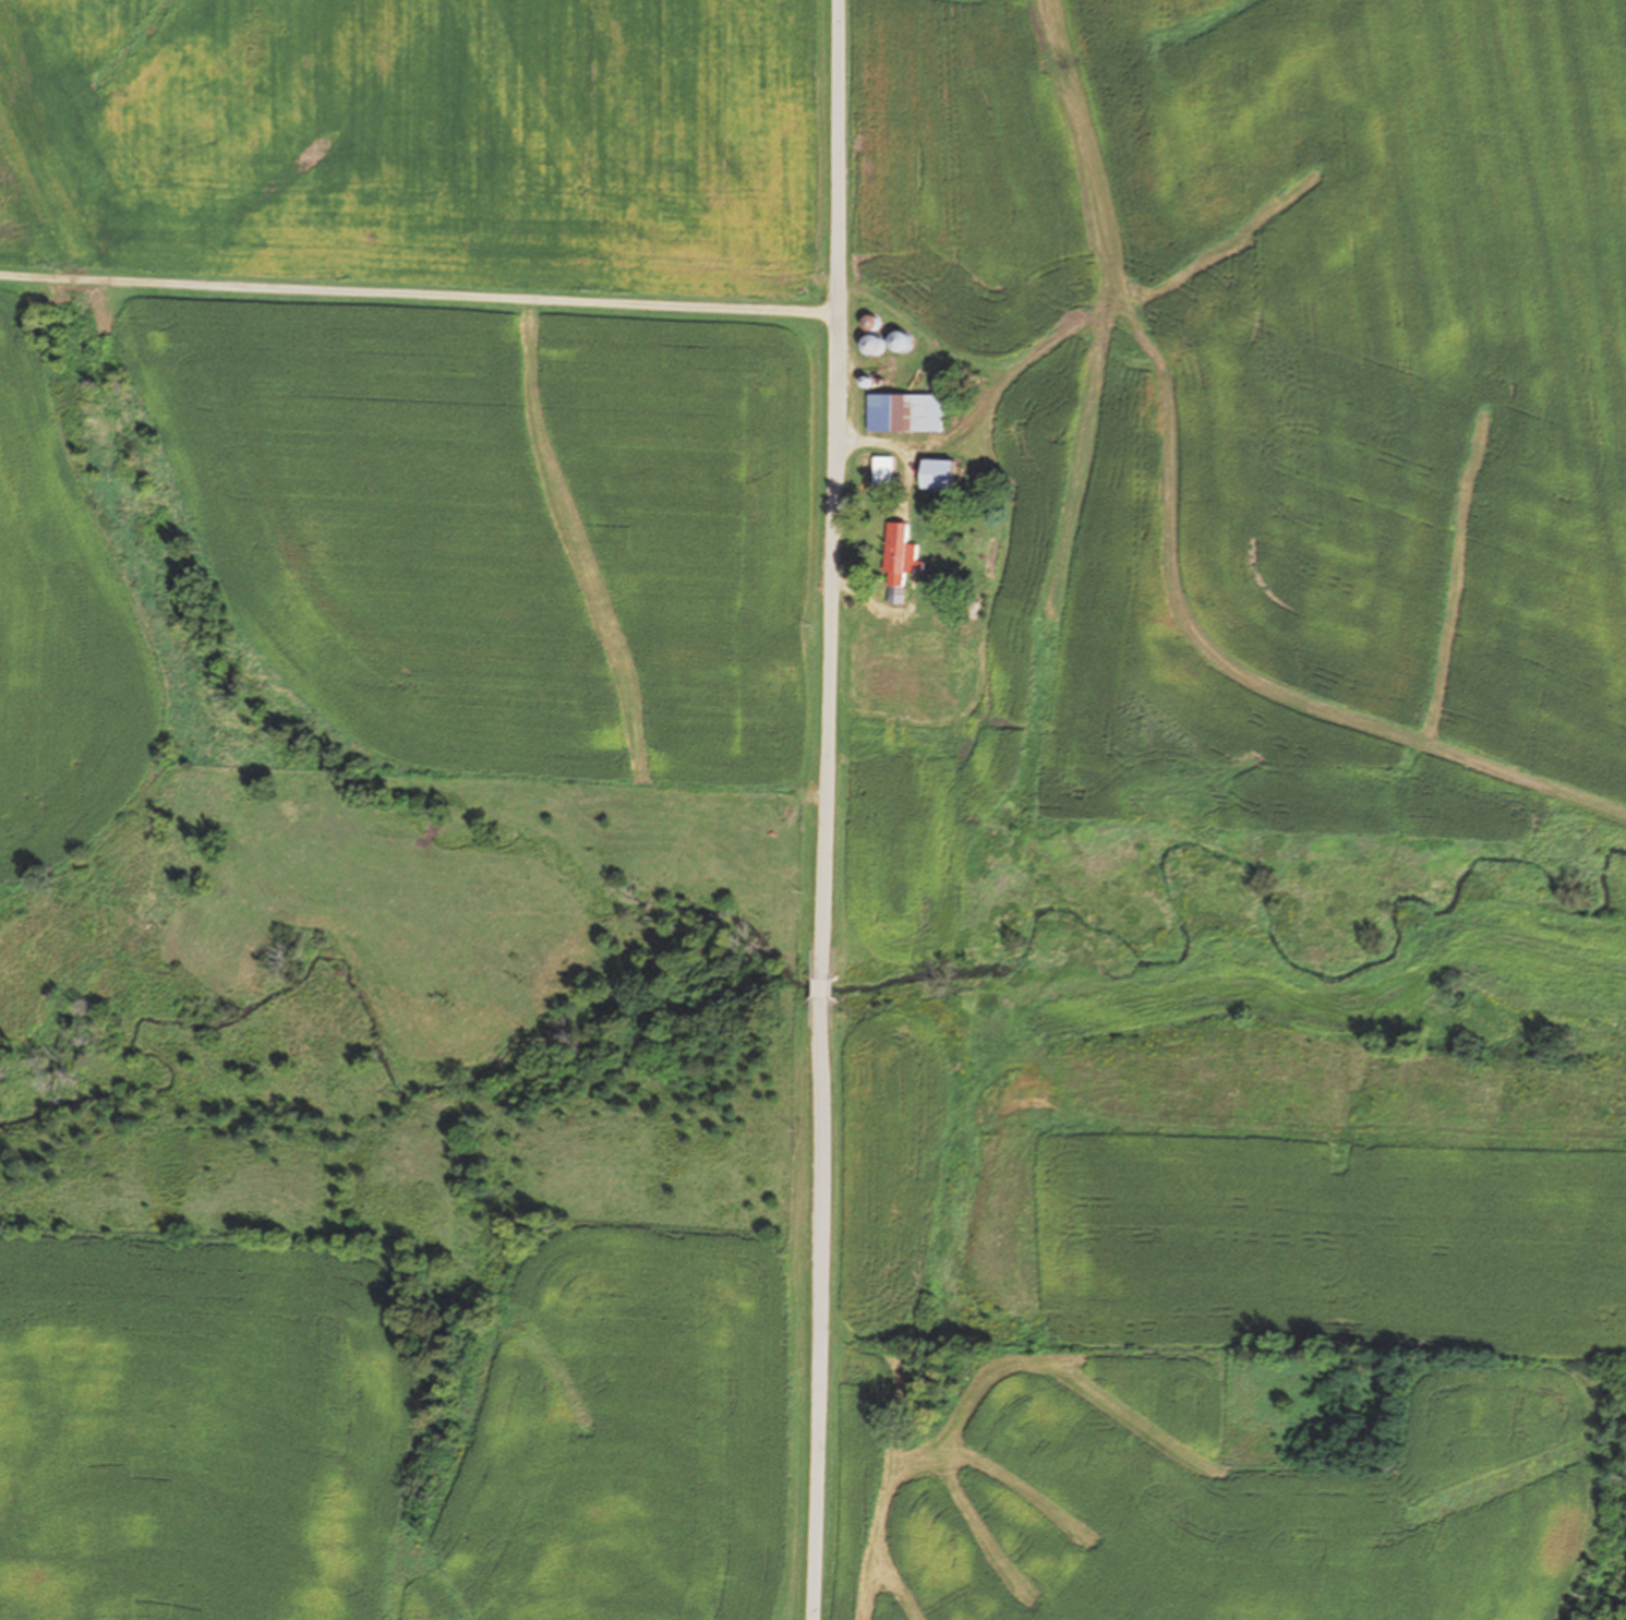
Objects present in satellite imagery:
road: (419, 297)
building: (910, 411)
building: (948, 473)
building: (878, 475)
building: (906, 568)
building: (908, 664)
building: (1085, 705)
road: (829, 809)
park: (1311, 1413)

